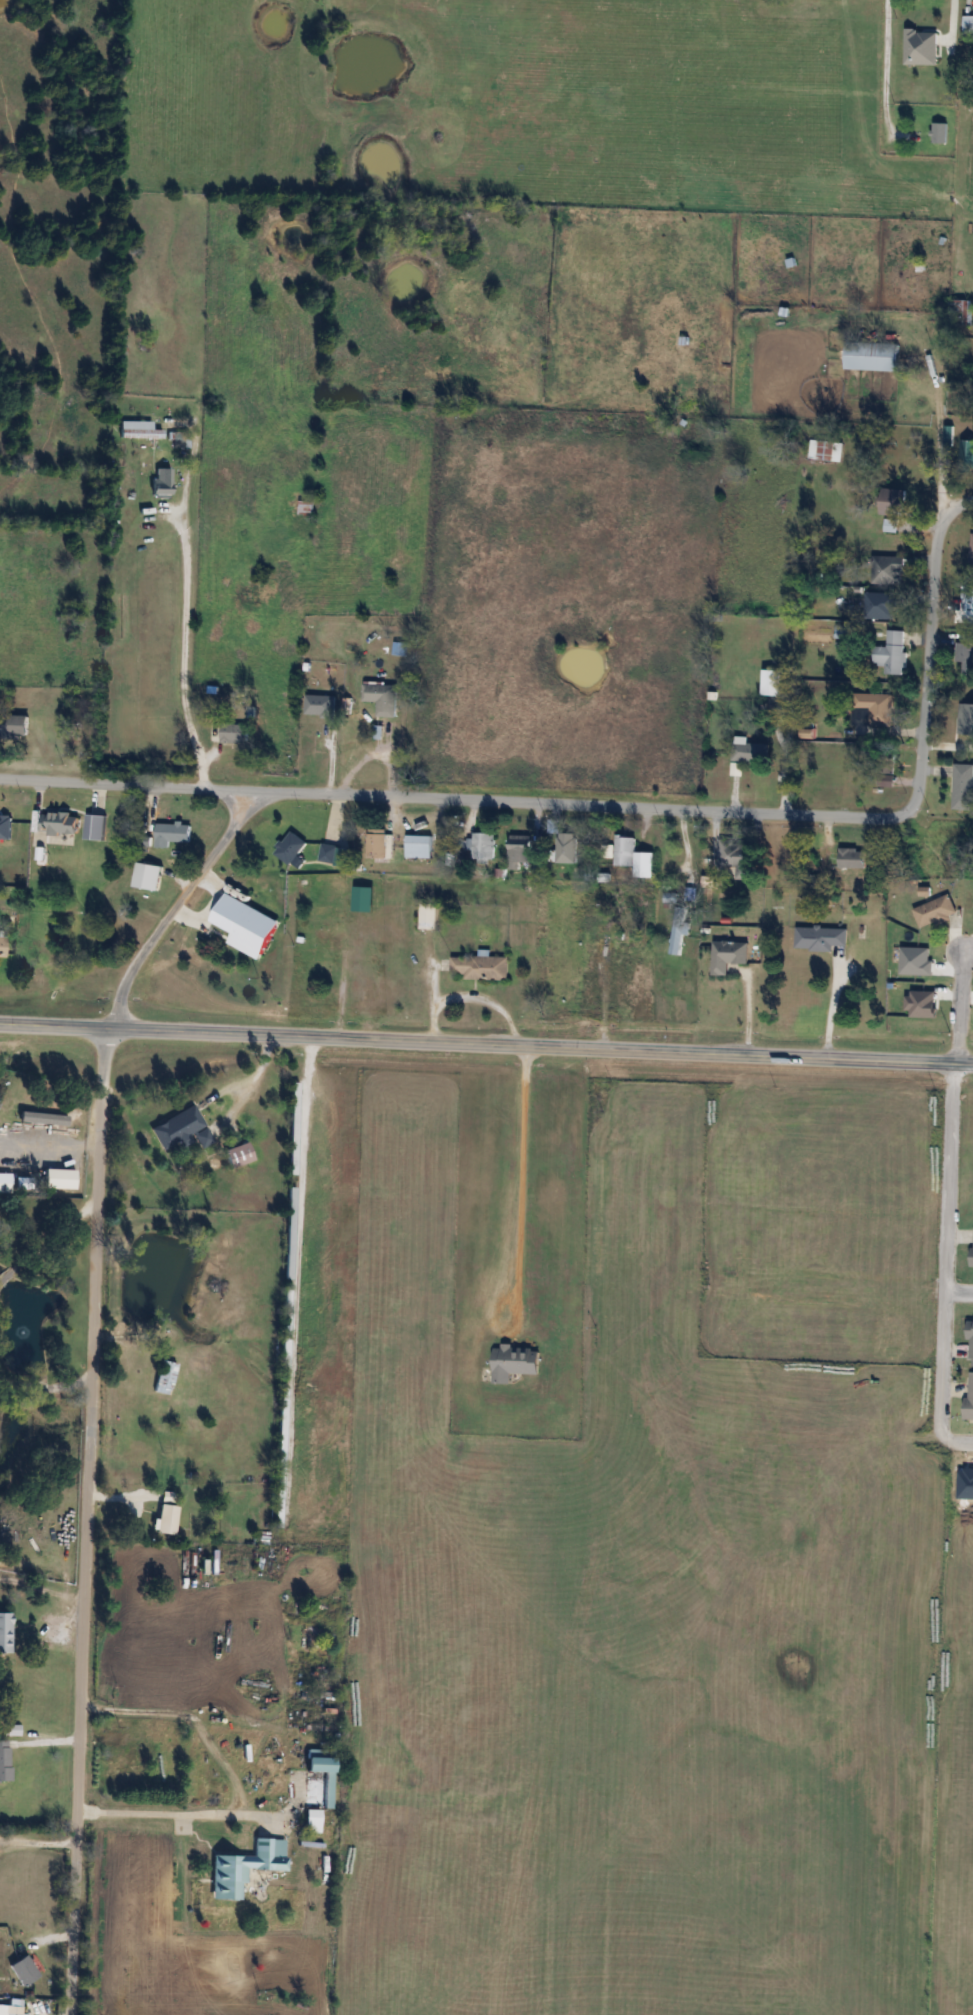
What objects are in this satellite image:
building: (968, 24)
building: (923, 47)
building: (939, 133)
building: (960, 311)
building: (872, 356)
building: (139, 430)
building: (825, 451)
building: (162, 483)
building: (895, 502)
building: (306, 508)
building: (890, 526)
building: (971, 552)
building: (886, 570)
building: (884, 603)
building: (968, 606)
road: (188, 652)
building: (892, 653)
building: (965, 657)
building: (773, 682)
building: (382, 697)
building: (320, 705)
building: (876, 708)
building: (14, 725)
building: (228, 732)
building: (750, 752)
building: (963, 786)
road: (622, 808)
building: (59, 823)
building: (172, 832)
building: (378, 844)
road: (689, 845)
building: (418, 846)
building: (484, 846)
building: (565, 847)
building: (292, 849)
building: (519, 850)
building: (625, 850)
building: (328, 853)
building: (853, 857)
building: (737, 858)
road: (174, 907)
building: (935, 911)
building: (429, 915)
building: (630, 924)
building: (252, 925)
building: (678, 936)
building: (820, 937)
building: (324, 939)
building: (2, 946)
building: (728, 955)
building: (480, 967)
road: (837, 1005)
road: (390, 1040)
road: (876, 1059)
road: (308, 1109)
building: (182, 1130)
building: (239, 1155)
road: (525, 1172)
building: (4, 1183)
road: (946, 1208)
road: (49, 1241)
road: (958, 1291)
building: (970, 1342)
building: (514, 1362)
building: (165, 1378)
building: (969, 1396)
building: (167, 1519)
road: (87, 1522)
building: (6, 1633)
building: (5, 1761)
building: (323, 1770)
road: (163, 1813)
building: (313, 1821)
road: (38, 1838)
building: (246, 1868)
building: (13, 2010)

